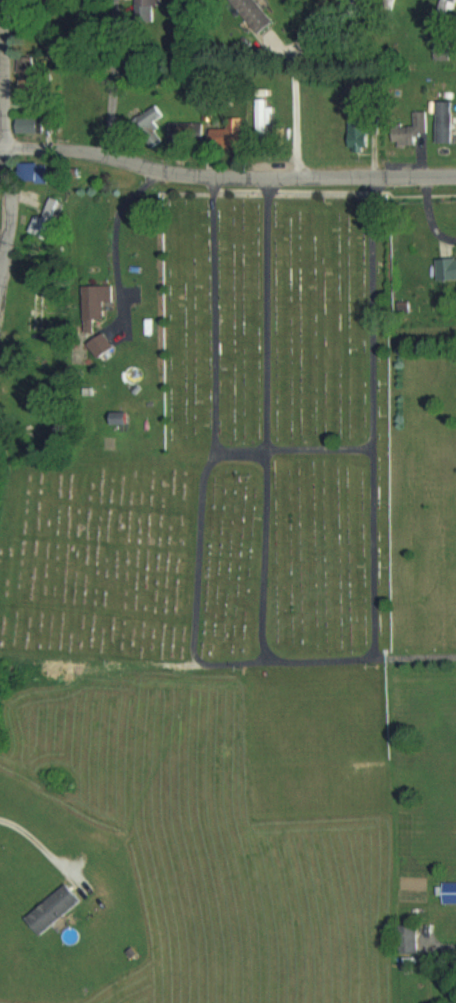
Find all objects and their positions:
building: (147, 9)
building: (256, 14)
building: (443, 45)
road: (111, 79)
building: (151, 115)
building: (446, 121)
building: (25, 124)
building: (186, 132)
building: (363, 132)
road: (5, 137)
building: (227, 137)
road: (226, 178)
building: (45, 219)
road: (112, 231)
road: (3, 243)
building: (448, 268)
building: (96, 303)
building: (36, 307)
building: (103, 344)
road: (372, 419)
road: (257, 427)
park: (221, 453)
road: (289, 453)
road: (204, 464)
road: (365, 662)
road: (39, 844)
building: (450, 890)
building: (55, 908)
building: (411, 937)

